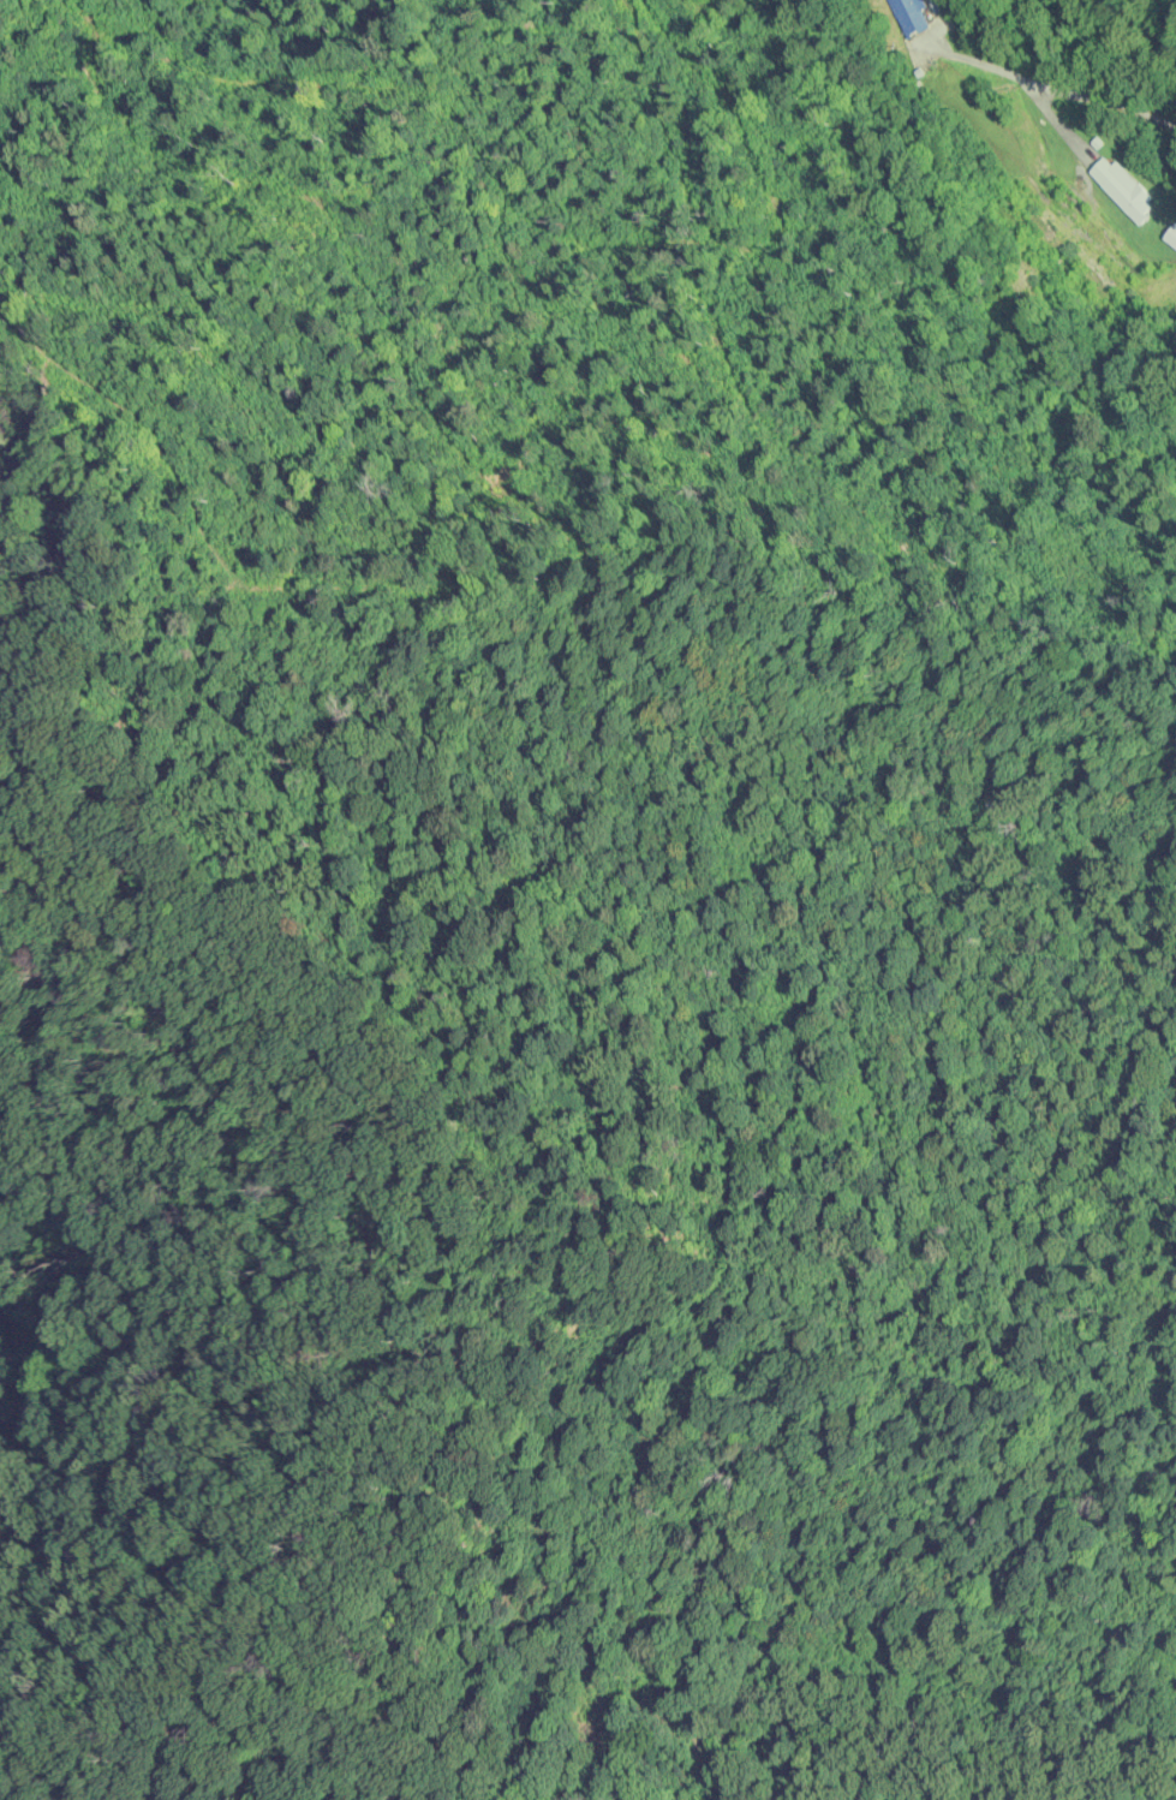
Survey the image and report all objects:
building: (911, 14)
road: (1080, 91)

